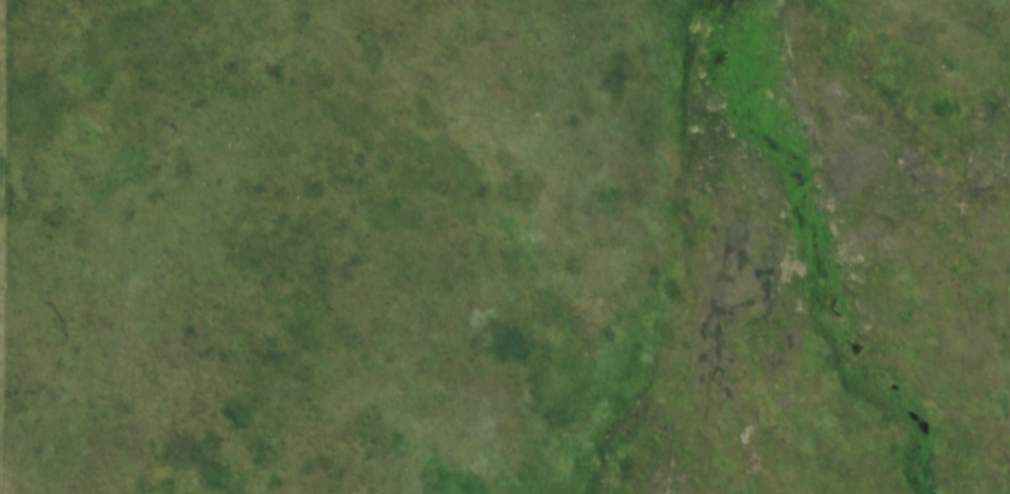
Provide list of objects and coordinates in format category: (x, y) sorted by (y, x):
road: (4, 247)

